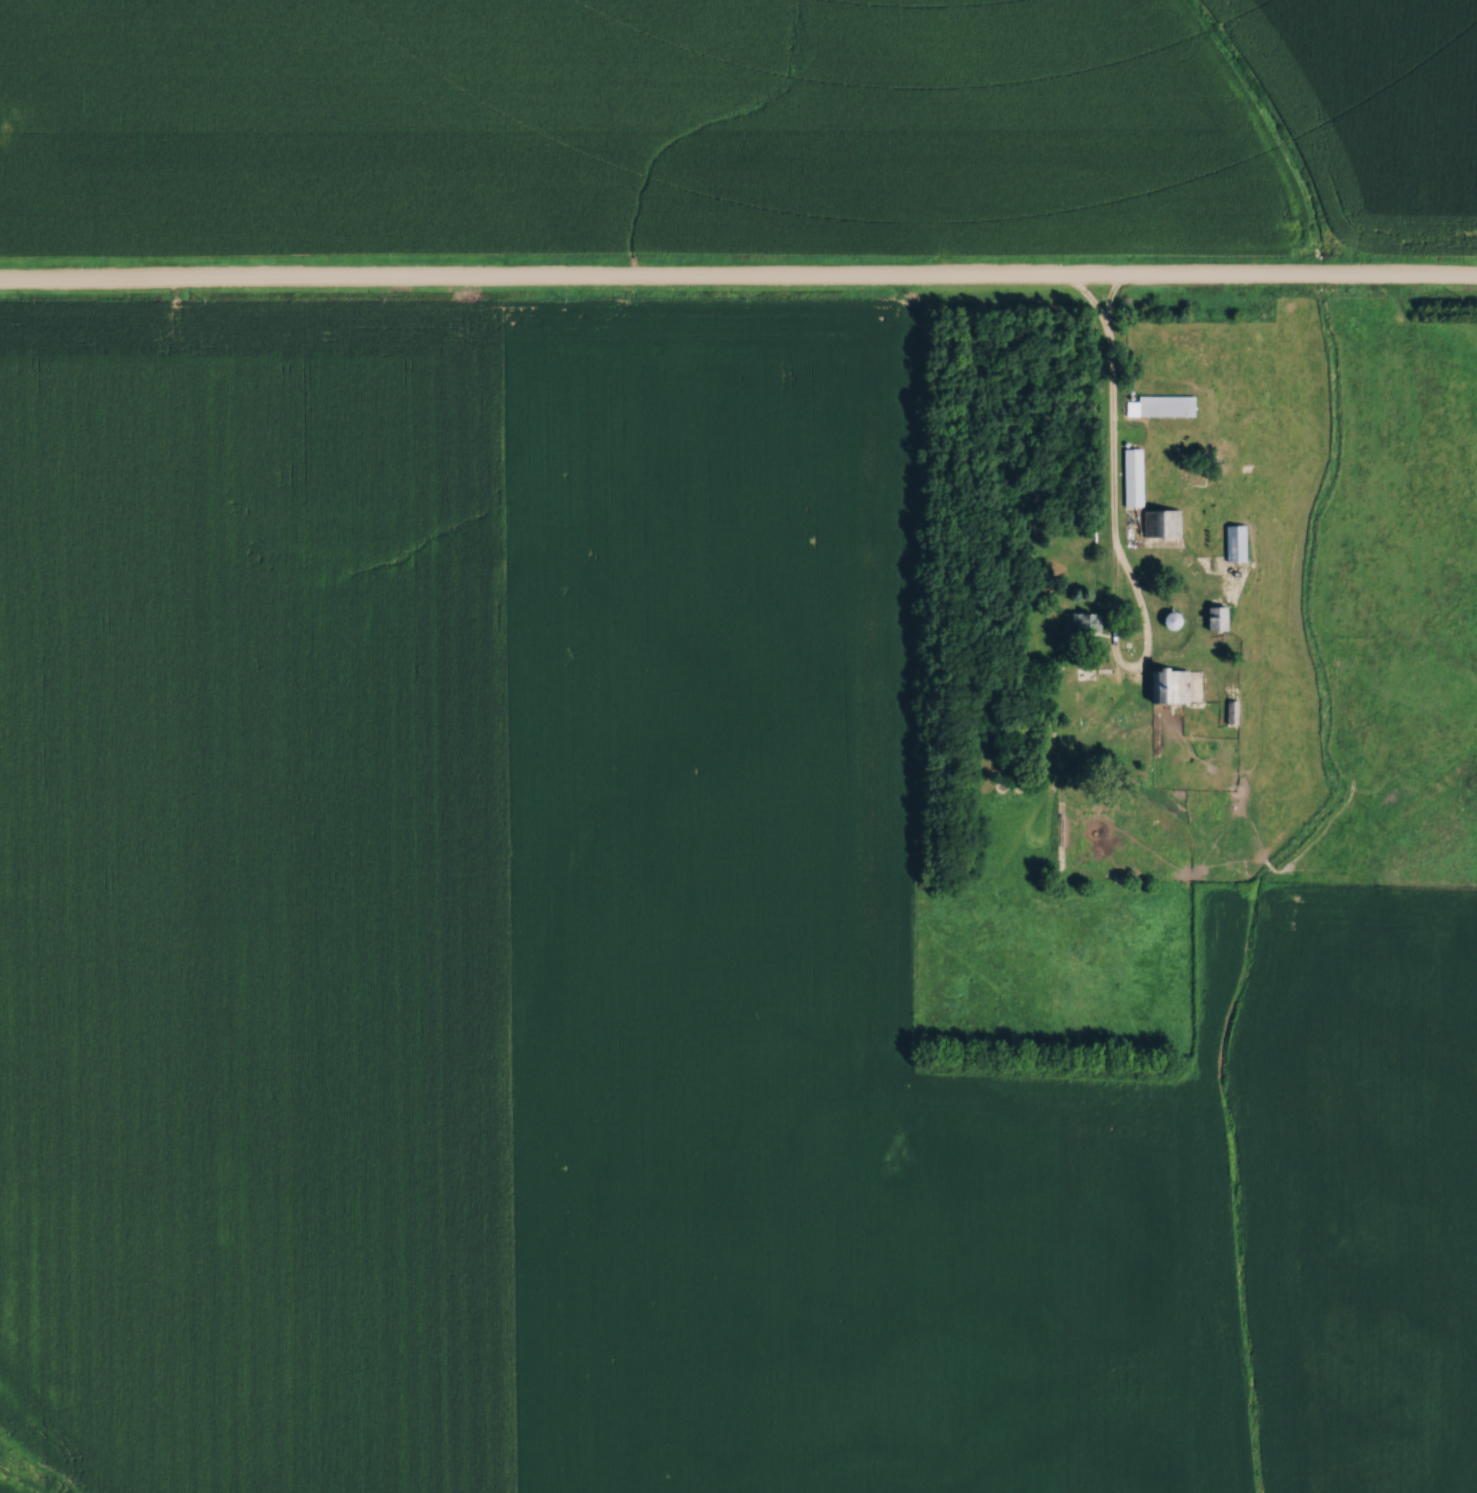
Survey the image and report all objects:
road: (738, 282)
road: (1090, 304)
building: (1166, 406)
road: (1113, 413)
building: (1143, 478)
building: (1164, 524)
building: (1239, 544)
building: (1086, 622)
road: (1120, 652)
building: (1169, 687)

